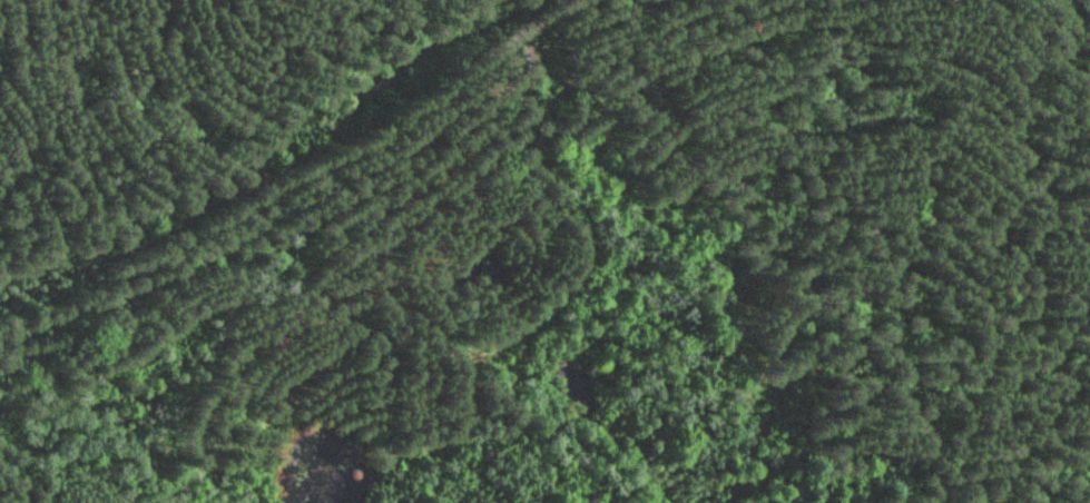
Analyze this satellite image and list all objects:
road: (267, 154)

